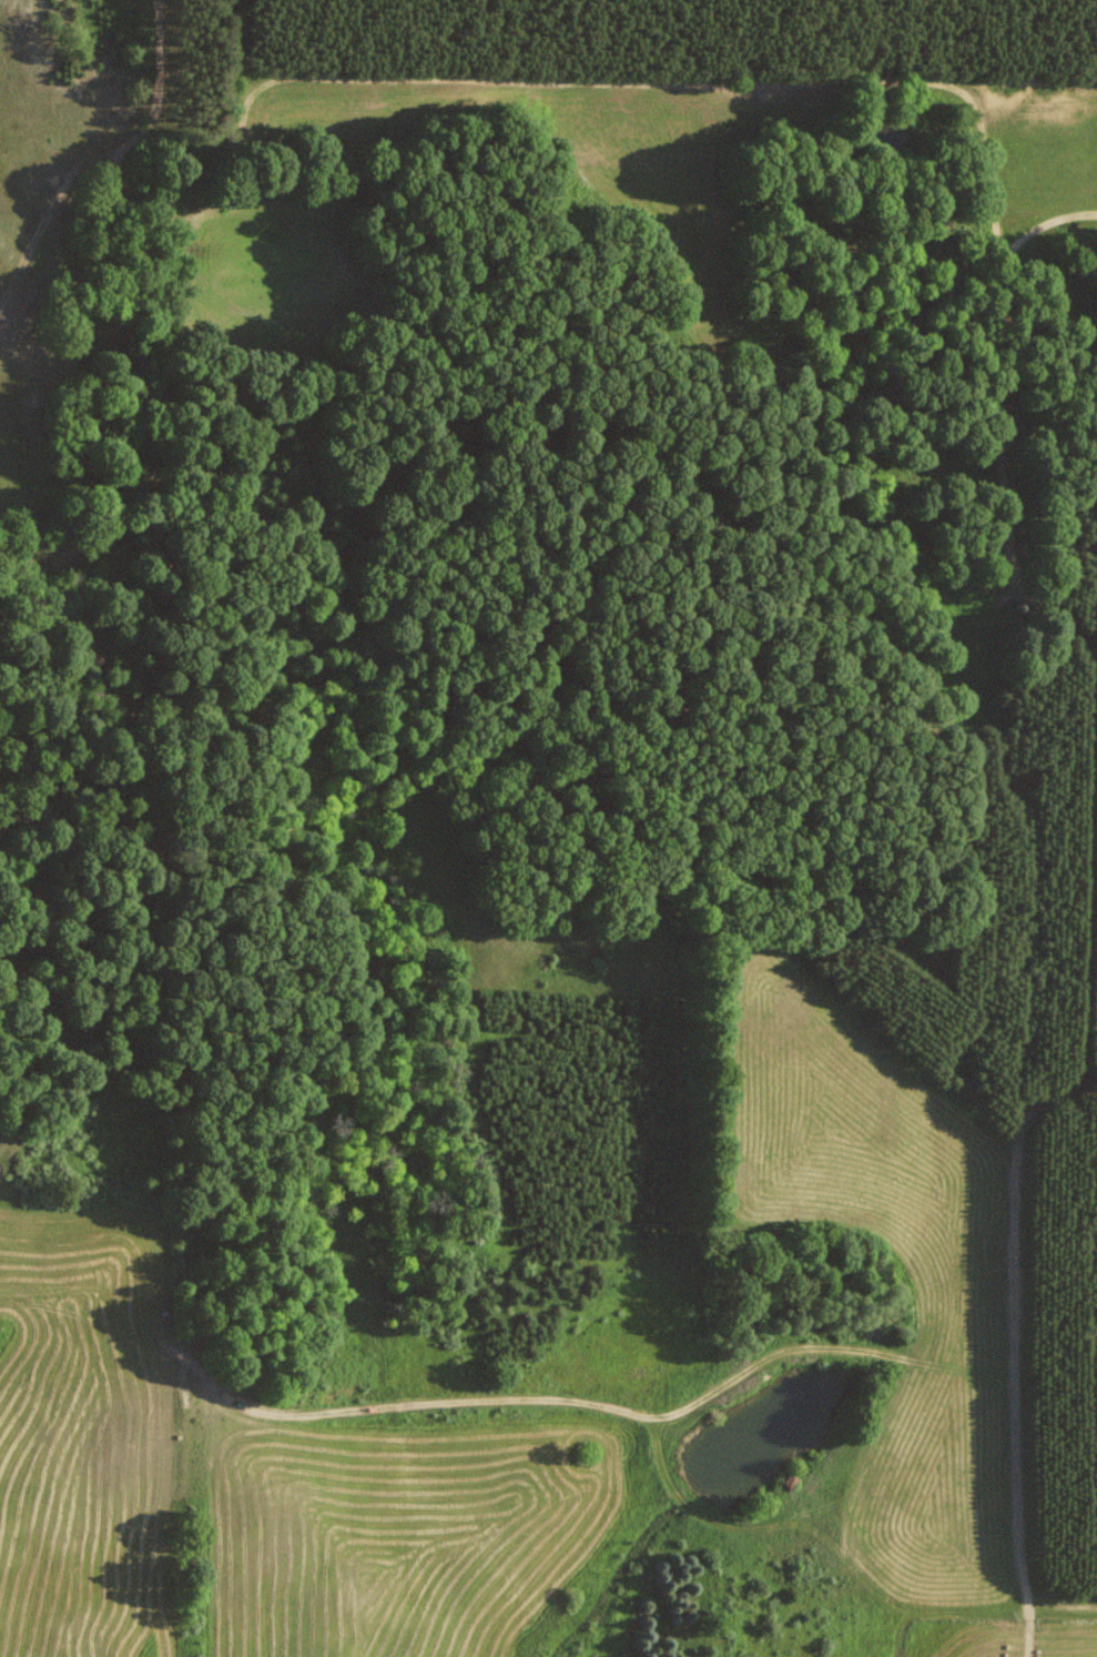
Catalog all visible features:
road: (499, 79)
road: (44, 219)
road: (1006, 255)

